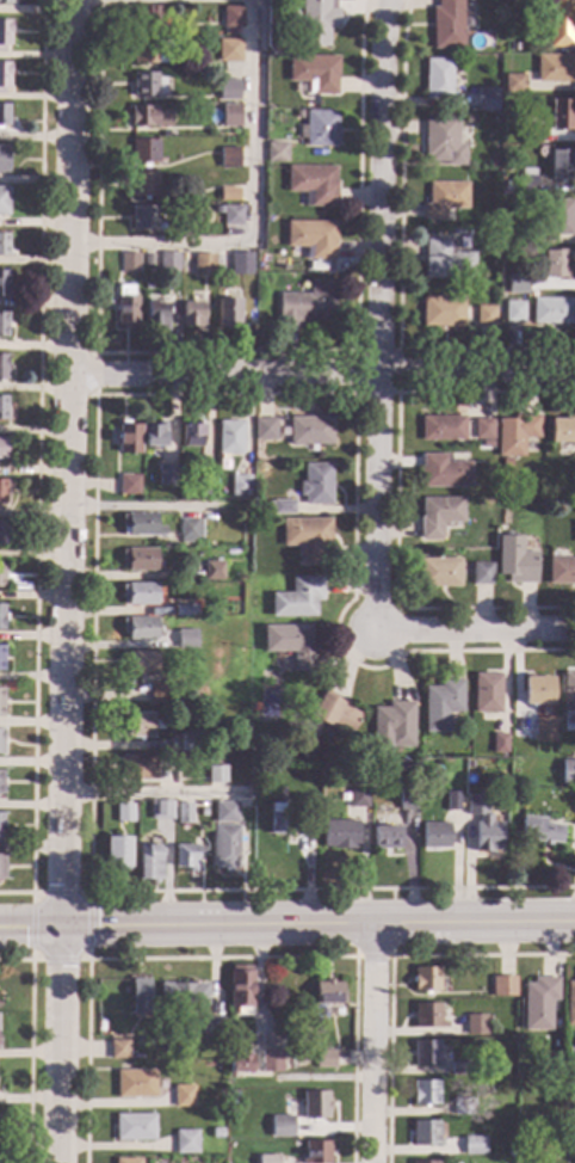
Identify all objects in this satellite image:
building: (5, 1)
building: (290, 14)
building: (231, 16)
building: (146, 17)
building: (316, 21)
building: (500, 23)
building: (558, 23)
building: (446, 24)
building: (4, 32)
building: (228, 49)
building: (153, 50)
building: (554, 67)
building: (314, 72)
building: (4, 74)
building: (437, 78)
building: (513, 82)
building: (147, 84)
building: (228, 88)
building: (476, 98)
building: (493, 105)
building: (297, 112)
building: (4, 113)
building: (229, 113)
building: (561, 113)
building: (144, 115)
building: (469, 118)
building: (320, 128)
building: (528, 133)
building: (441, 140)
building: (143, 150)
building: (276, 152)
building: (229, 156)
building: (4, 158)
building: (559, 164)
building: (525, 180)
building: (143, 183)
building: (311, 183)
building: (507, 185)
building: (228, 192)
building: (443, 198)
building: (4, 199)
building: (217, 209)
road: (251, 209)
building: (231, 214)
building: (556, 215)
building: (143, 216)
building: (528, 234)
building: (311, 238)
building: (2, 244)
building: (445, 259)
building: (168, 260)
building: (129, 263)
building: (241, 263)
building: (555, 263)
building: (203, 264)
building: (148, 270)
building: (2, 283)
building: (517, 283)
building: (531, 293)
building: (305, 303)
building: (550, 309)
building: (125, 310)
building: (441, 310)
building: (227, 312)
building: (513, 312)
building: (192, 314)
road: (375, 314)
building: (155, 315)
building: (484, 315)
building: (2, 324)
building: (2, 365)
road: (322, 376)
building: (2, 407)
building: (443, 427)
building: (483, 427)
building: (264, 429)
building: (562, 429)
building: (309, 430)
building: (190, 433)
building: (514, 433)
building: (153, 435)
building: (126, 437)
building: (229, 437)
building: (486, 443)
building: (1, 447)
building: (506, 462)
building: (441, 470)
building: (166, 474)
building: (205, 475)
building: (128, 484)
building: (239, 484)
building: (315, 484)
building: (1, 491)
building: (278, 505)
building: (438, 515)
building: (140, 524)
building: (188, 529)
building: (574, 530)
building: (2, 531)
building: (308, 537)
building: (138, 558)
building: (514, 560)
building: (212, 571)
building: (561, 571)
building: (438, 572)
building: (480, 573)
building: (1, 574)
road: (66, 581)
building: (138, 592)
building: (297, 597)
building: (185, 609)
building: (1, 616)
building: (138, 627)
road: (475, 630)
building: (190, 642)
building: (291, 644)
building: (1, 657)
building: (140, 662)
building: (537, 690)
building: (568, 690)
building: (160, 691)
building: (486, 693)
building: (0, 702)
building: (440, 704)
building: (254, 707)
building: (334, 712)
building: (136, 724)
building: (394, 724)
building: (544, 728)
building: (1, 740)
building: (188, 742)
building: (499, 743)
building: (555, 758)
building: (138, 767)
building: (568, 771)
building: (215, 774)
building: (410, 779)
building: (0, 782)
building: (254, 790)
road: (153, 794)
building: (358, 795)
building: (406, 798)
building: (452, 800)
building: (160, 810)
building: (123, 812)
building: (183, 812)
building: (204, 812)
building: (215, 814)
building: (574, 818)
building: (278, 819)
building: (309, 824)
building: (483, 824)
building: (0, 825)
building: (539, 830)
building: (339, 833)
building: (434, 833)
building: (385, 837)
building: (224, 845)
building: (116, 850)
building: (186, 855)
building: (148, 861)
building: (1, 867)
road: (319, 924)
road: (31, 927)
building: (426, 978)
building: (503, 986)
building: (240, 990)
building: (328, 991)
building: (183, 993)
building: (138, 995)
building: (539, 1002)
building: (570, 1002)
building: (427, 1015)
building: (476, 1024)
building: (211, 1028)
road: (372, 1044)
building: (118, 1048)
building: (426, 1052)
building: (324, 1058)
building: (271, 1060)
building: (239, 1062)
building: (459, 1067)
building: (135, 1083)
building: (425, 1090)
building: (233, 1094)
building: (183, 1095)
building: (314, 1104)
building: (463, 1106)
building: (282, 1125)
building: (134, 1126)
building: (216, 1132)
building: (426, 1132)
building: (187, 1139)
building: (475, 1145)
building: (315, 1151)
building: (511, 1152)
building: (267, 1158)
building: (126, 1161)
building: (425, 1162)

